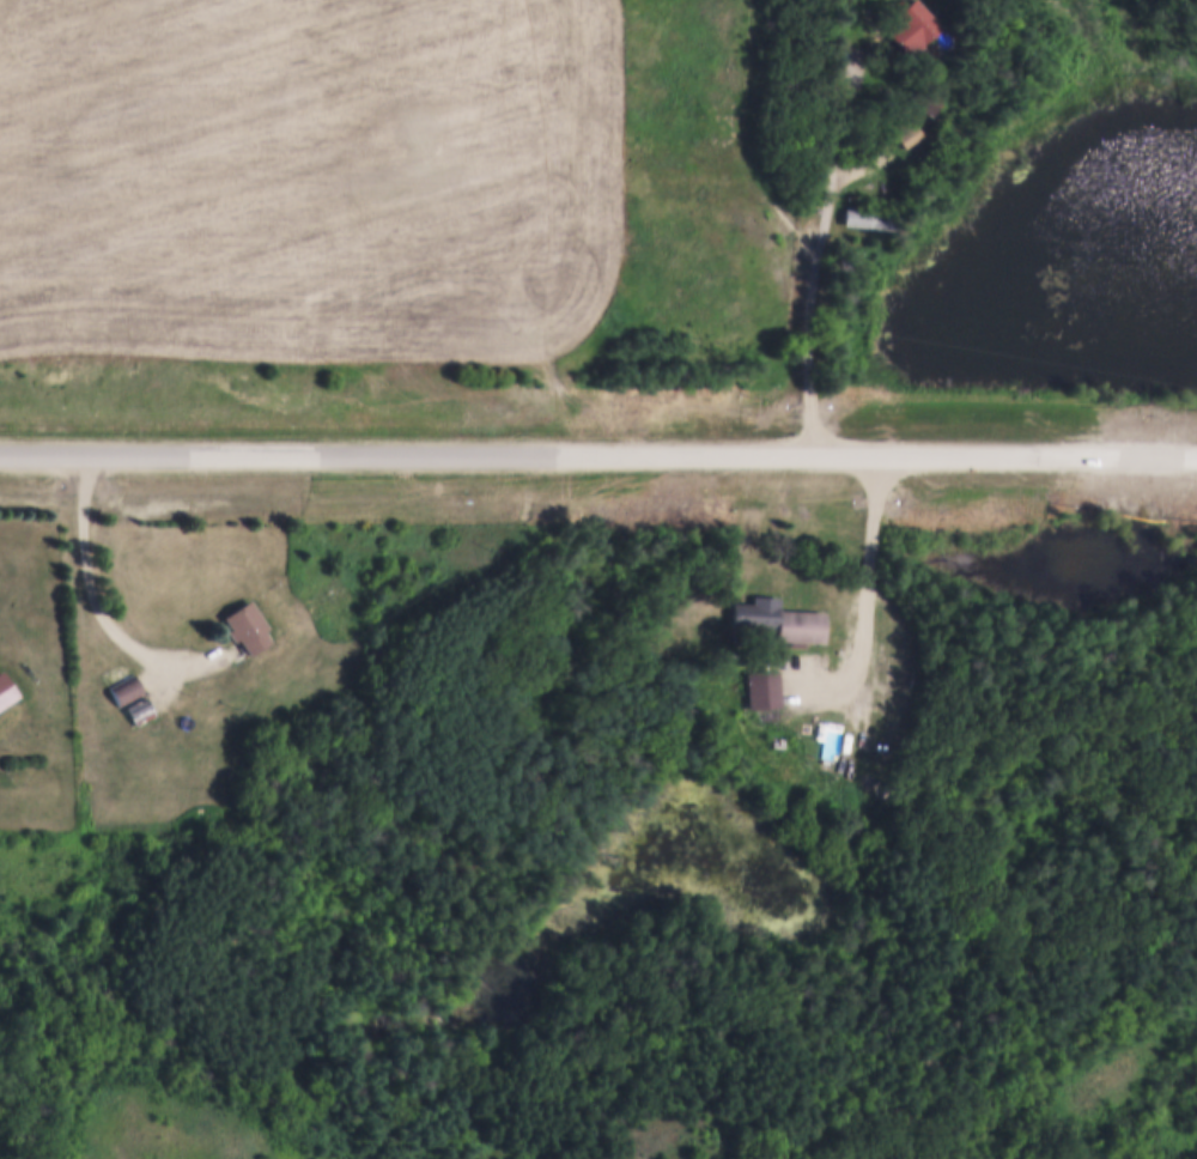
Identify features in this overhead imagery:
building: (913, 23)
building: (915, 95)
building: (906, 133)
building: (858, 216)
road: (819, 255)
road: (598, 454)
road: (867, 597)
road: (102, 607)
building: (788, 618)
building: (244, 624)
building: (123, 686)
building: (765, 686)
building: (5, 687)
building: (138, 708)
building: (830, 735)
building: (780, 739)

